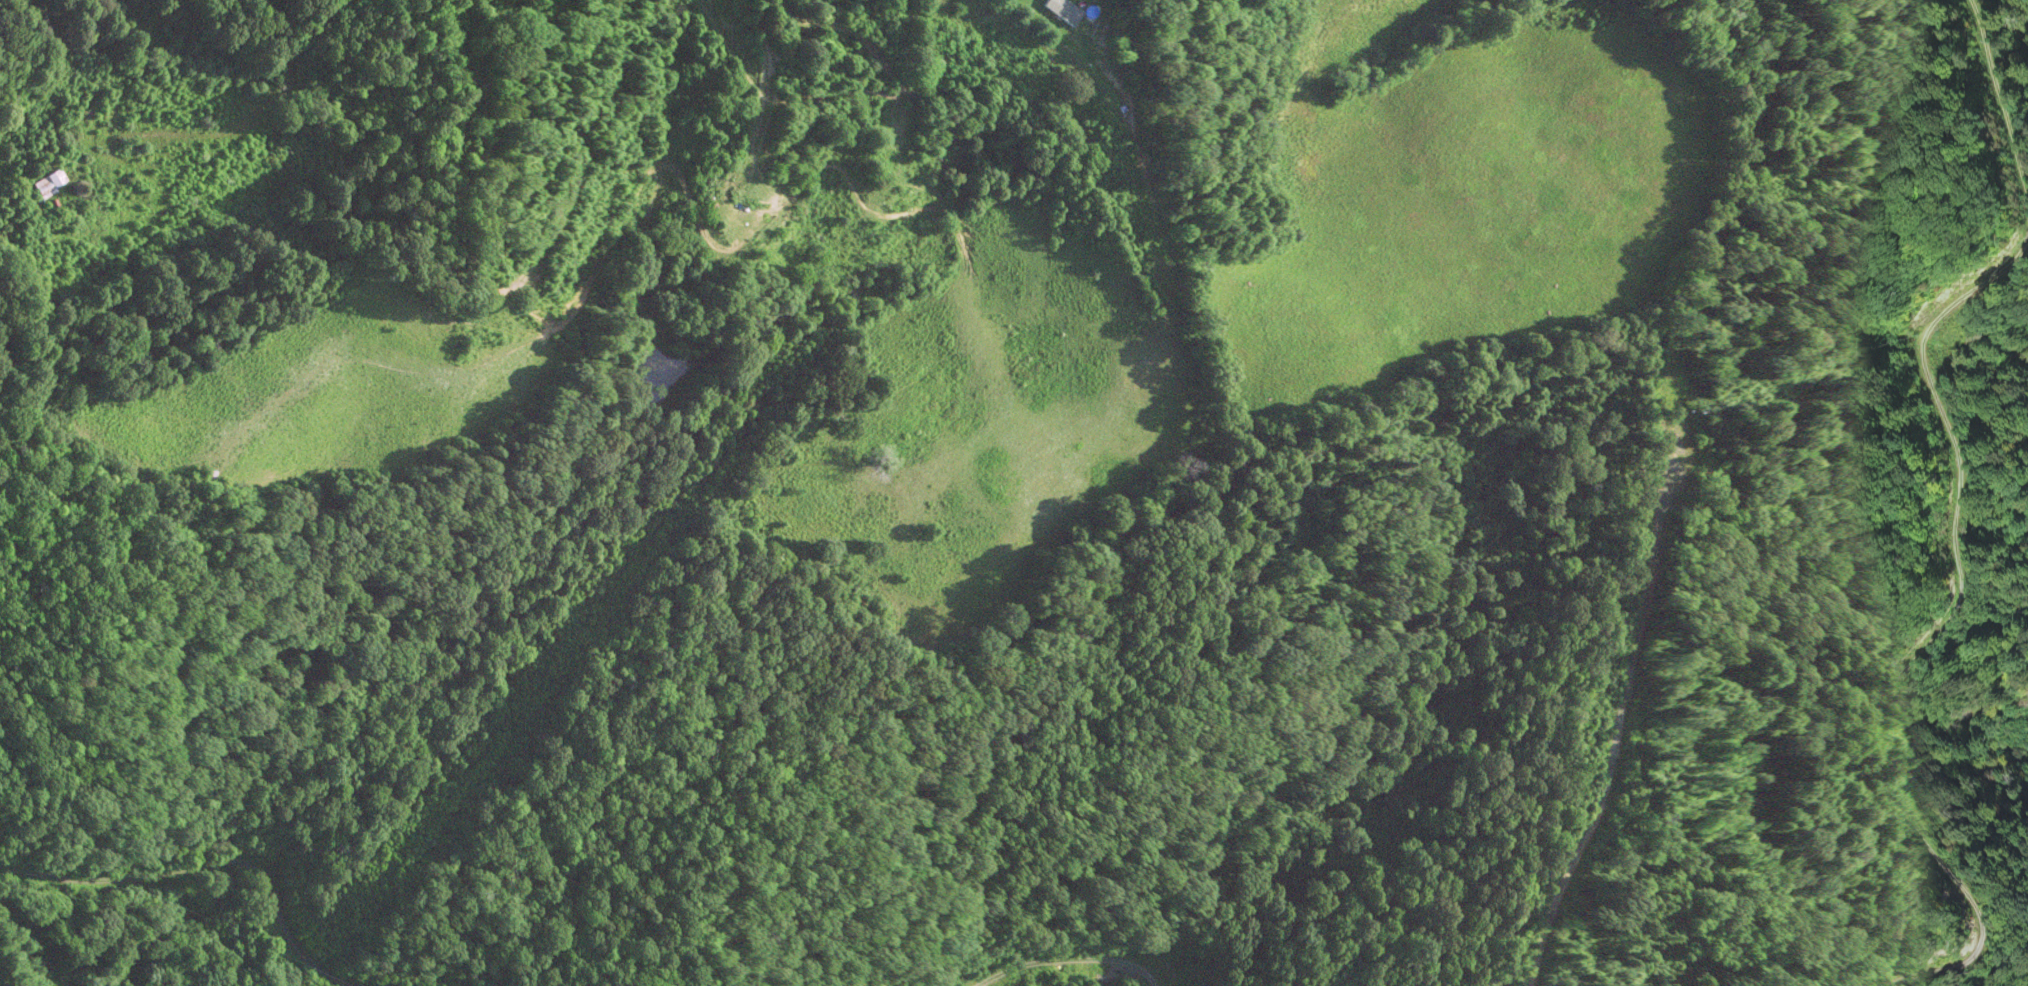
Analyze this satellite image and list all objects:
road: (751, 82)
road: (992, 93)
road: (2002, 104)
road: (578, 151)
building: (46, 184)
road: (909, 212)
road: (715, 244)
road: (1934, 640)
road: (205, 867)
road: (1071, 959)

